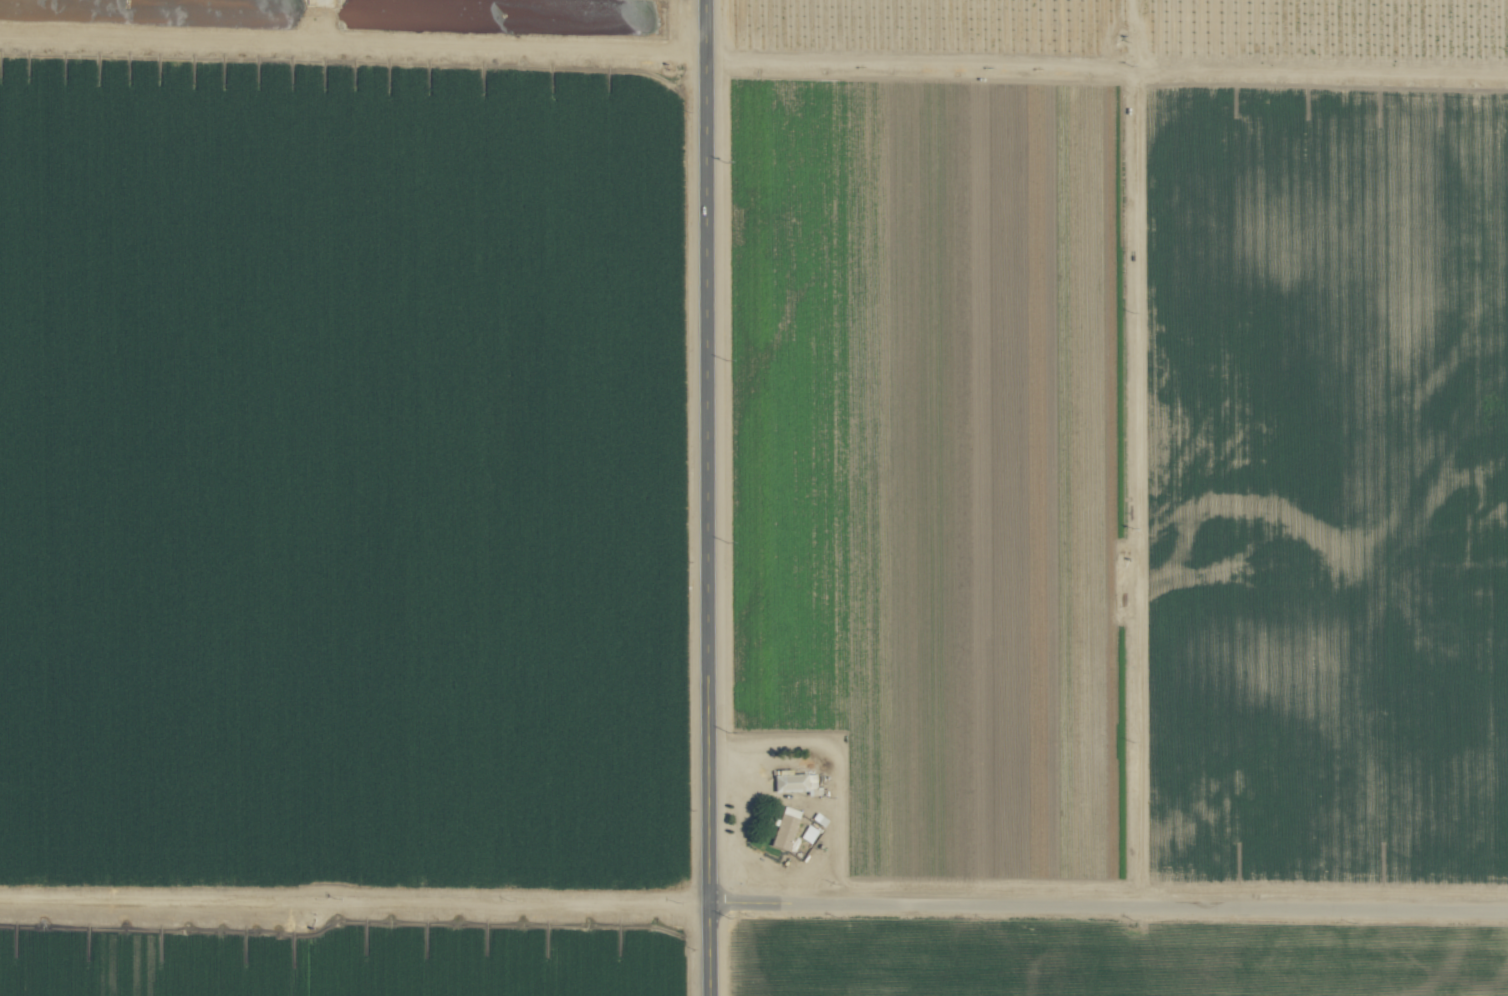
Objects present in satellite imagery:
crop: (357, 27)
road: (697, 498)
crop: (754, 498)
building: (787, 781)
building: (781, 832)
road: (1103, 904)

